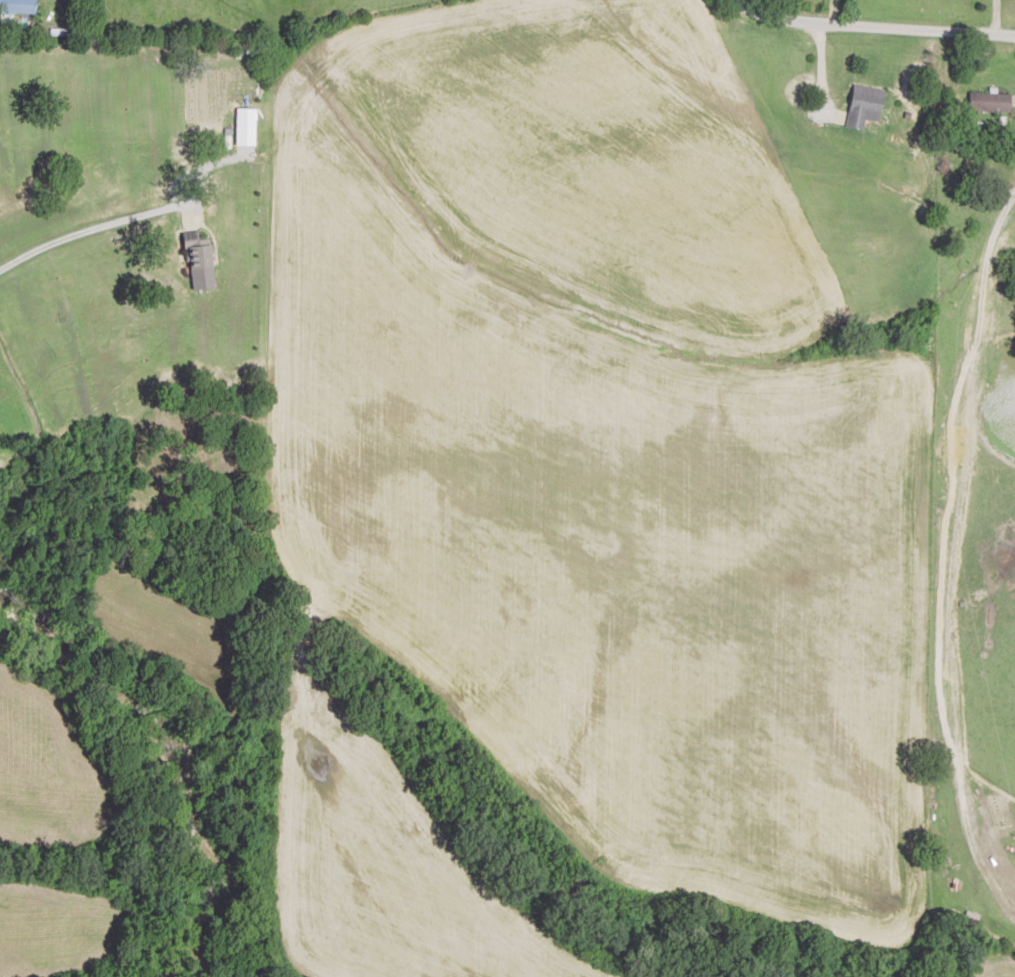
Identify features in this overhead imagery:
building: (22, 6)
road: (881, 33)
building: (992, 102)
building: (866, 105)
road: (114, 204)
building: (200, 248)

